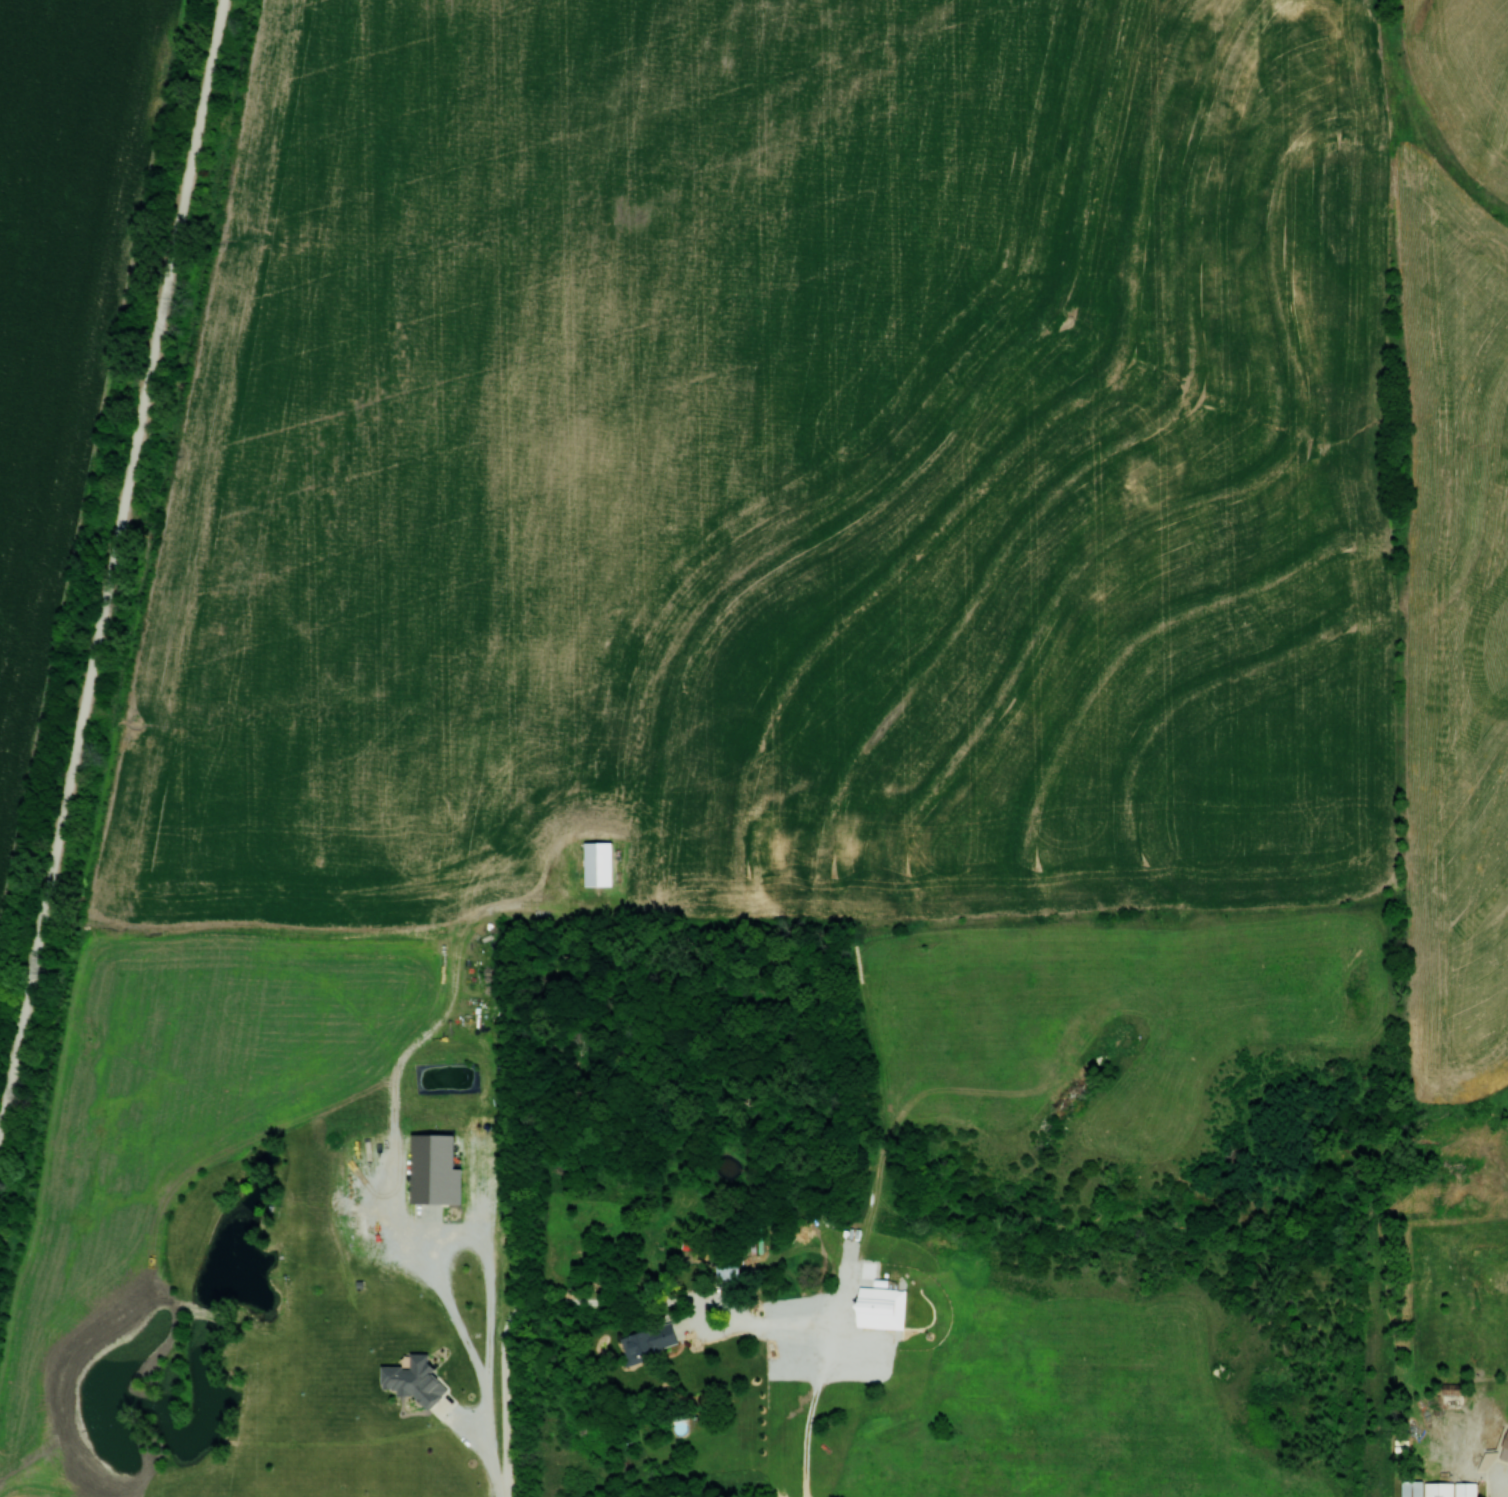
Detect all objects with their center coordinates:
crop: (60, 308)
road: (111, 567)
building: (602, 861)
building: (737, 1270)
building: (883, 1306)
road: (514, 1308)
road: (735, 1311)
building: (645, 1344)
building: (1506, 1453)
building: (1444, 1488)

